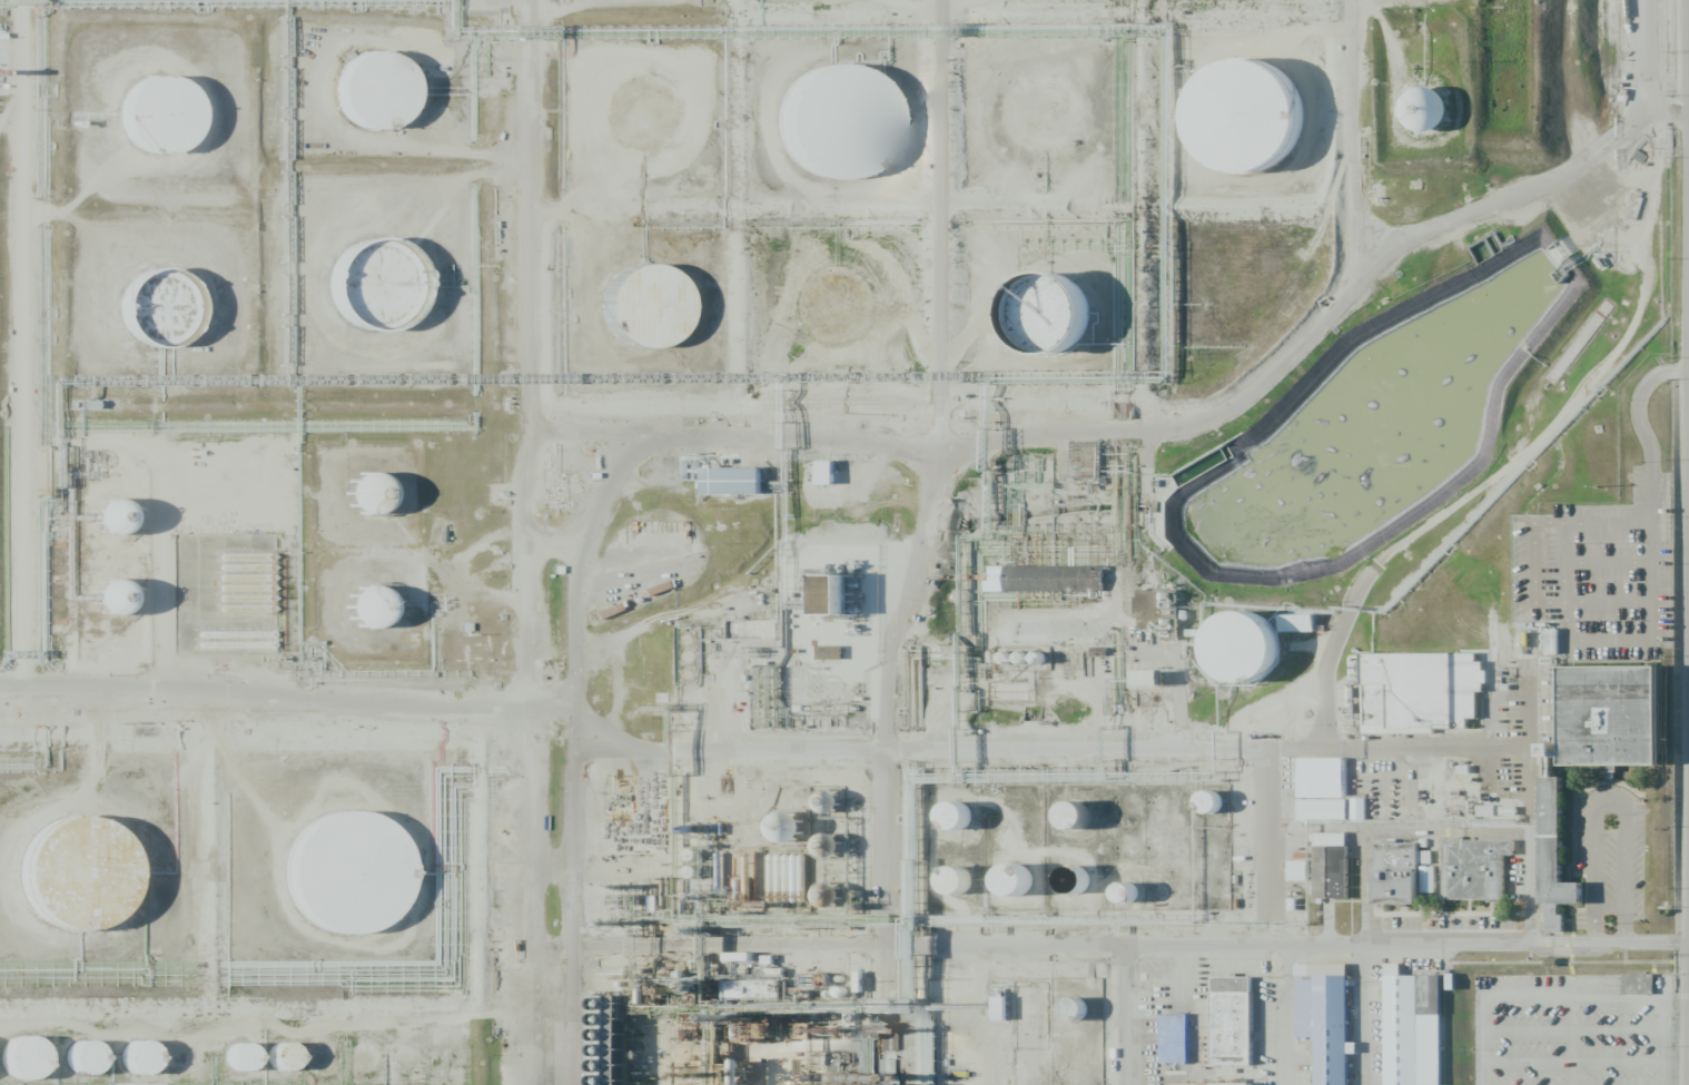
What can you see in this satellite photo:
road: (1646, 57)
building: (389, 99)
storage tank: (389, 99)
building: (1424, 109)
building: (650, 114)
storage tank: (650, 114)
building: (171, 124)
storage tank: (171, 124)
building: (1256, 125)
storage tank: (1256, 125)
building: (848, 136)
storage tank: (848, 136)
road: (1353, 141)
road: (942, 227)
building: (387, 292)
storage tank: (387, 292)
building: (658, 316)
storage tank: (658, 316)
road: (1325, 316)
building: (170, 317)
storage tank: (170, 317)
building: (851, 317)
storage tank: (851, 317)
building: (1065, 327)
storage tank: (1065, 327)
building: (826, 472)
building: (838, 479)
building: (747, 491)
building: (366, 493)
building: (110, 516)
building: (1058, 579)
building: (832, 594)
building: (111, 596)
road: (576, 604)
building: (367, 606)
building: (1156, 611)
building: (1297, 622)
building: (1551, 641)
power substation: (818, 642)
building: (829, 652)
building: (1257, 658)
storage tank: (1257, 658)
building: (1148, 677)
building: (1420, 690)
road: (286, 692)
road: (887, 710)
building: (1620, 721)
road: (1009, 748)
building: (1548, 760)
building: (1320, 777)
building: (1391, 800)
building: (1208, 801)
building: (1221, 809)
storage tank: (1221, 809)
building: (1357, 809)
building: (1329, 812)
building: (955, 815)
building: (1074, 815)
building: (969, 825)
storage tank: (969, 825)
building: (783, 826)
building: (1088, 826)
storage tank: (1088, 826)
building: (827, 846)
building: (1553, 856)
building: (1473, 869)
building: (1297, 870)
building: (1335, 875)
building: (1015, 879)
building: (1404, 879)
building: (956, 880)
building: (360, 881)
storage tank: (360, 881)
building: (91, 885)
storage tank: (91, 885)
building: (969, 890)
storage tank: (969, 890)
building: (1087, 890)
storage tank: (1087, 890)
building: (1031, 891)
storage tank: (1031, 891)
building: (1127, 891)
building: (826, 895)
road: (1286, 945)
building: (1637, 984)
road: (1524, 995)
road: (1675, 998)
building: (999, 1008)
building: (1007, 1014)
road: (1285, 1015)
building: (1086, 1017)
storage tank: (1086, 1017)
building: (1324, 1018)
building: (1237, 1025)
building: (1412, 1028)
road: (1570, 1030)
building: (1178, 1040)
road: (1661, 1042)
building: (82, 1057)
building: (138, 1057)
building: (239, 1057)
building: (281, 1057)
road: (1570, 1059)
building: (294, 1065)
storage tank: (294, 1065)
building: (34, 1066)
storage tank: (34, 1066)
building: (253, 1066)
storage tank: (253, 1066)
building: (97, 1067)
storage tank: (97, 1067)
building: (151, 1067)
storage tank: (151, 1067)
building: (1215, 1084)

